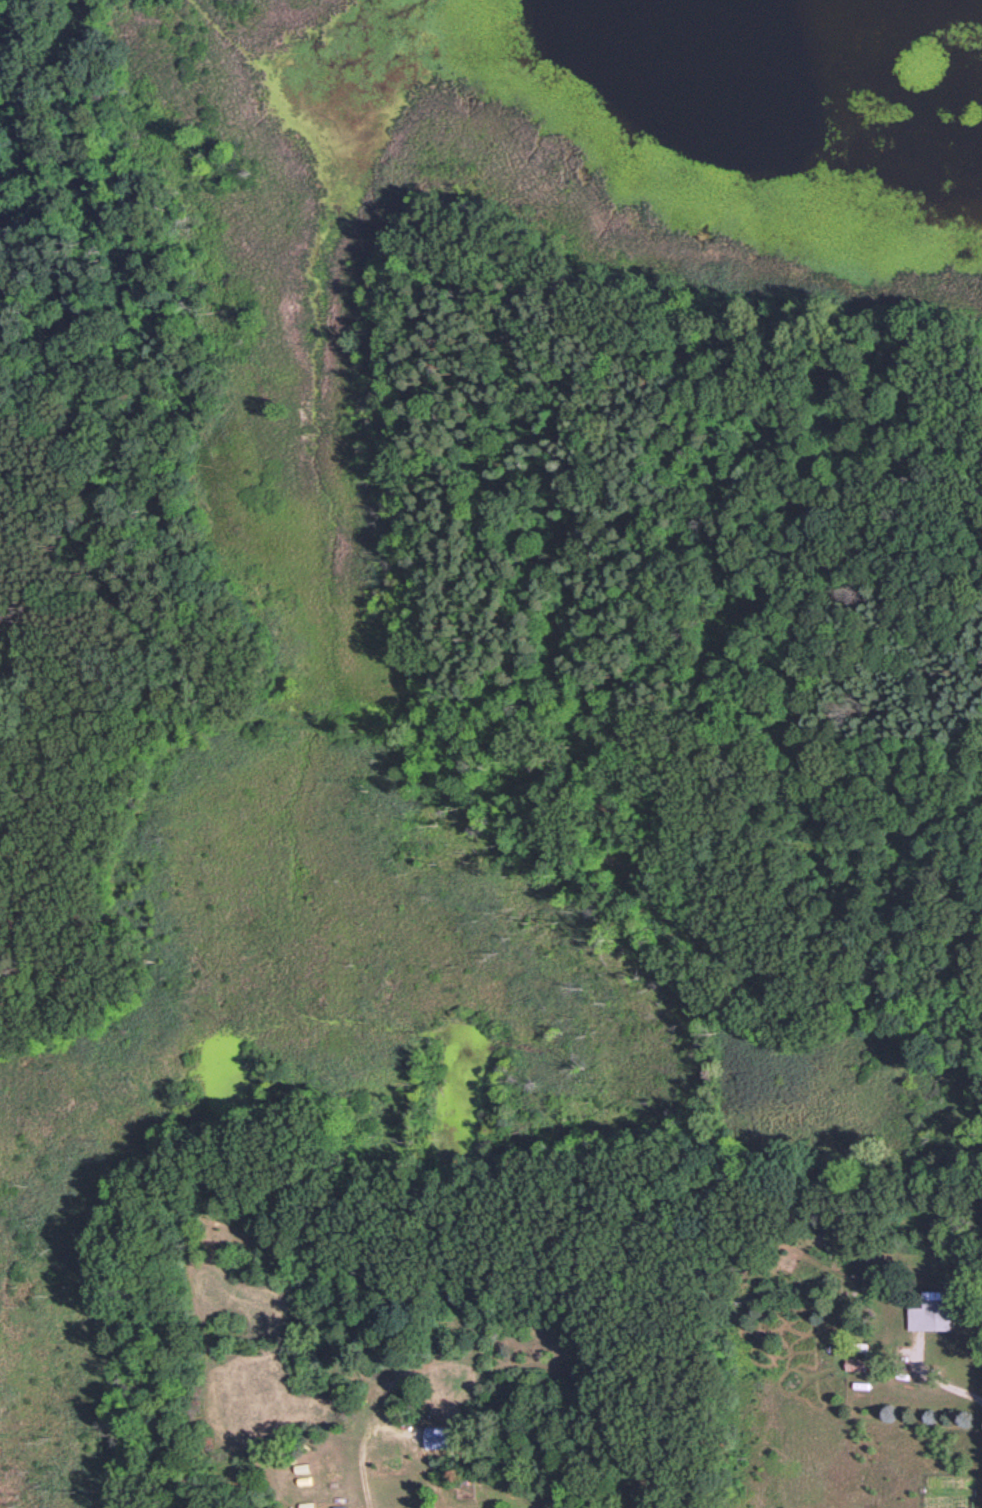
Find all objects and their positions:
building: (933, 1311)
building: (856, 1363)
road: (934, 1380)
building: (440, 1436)

